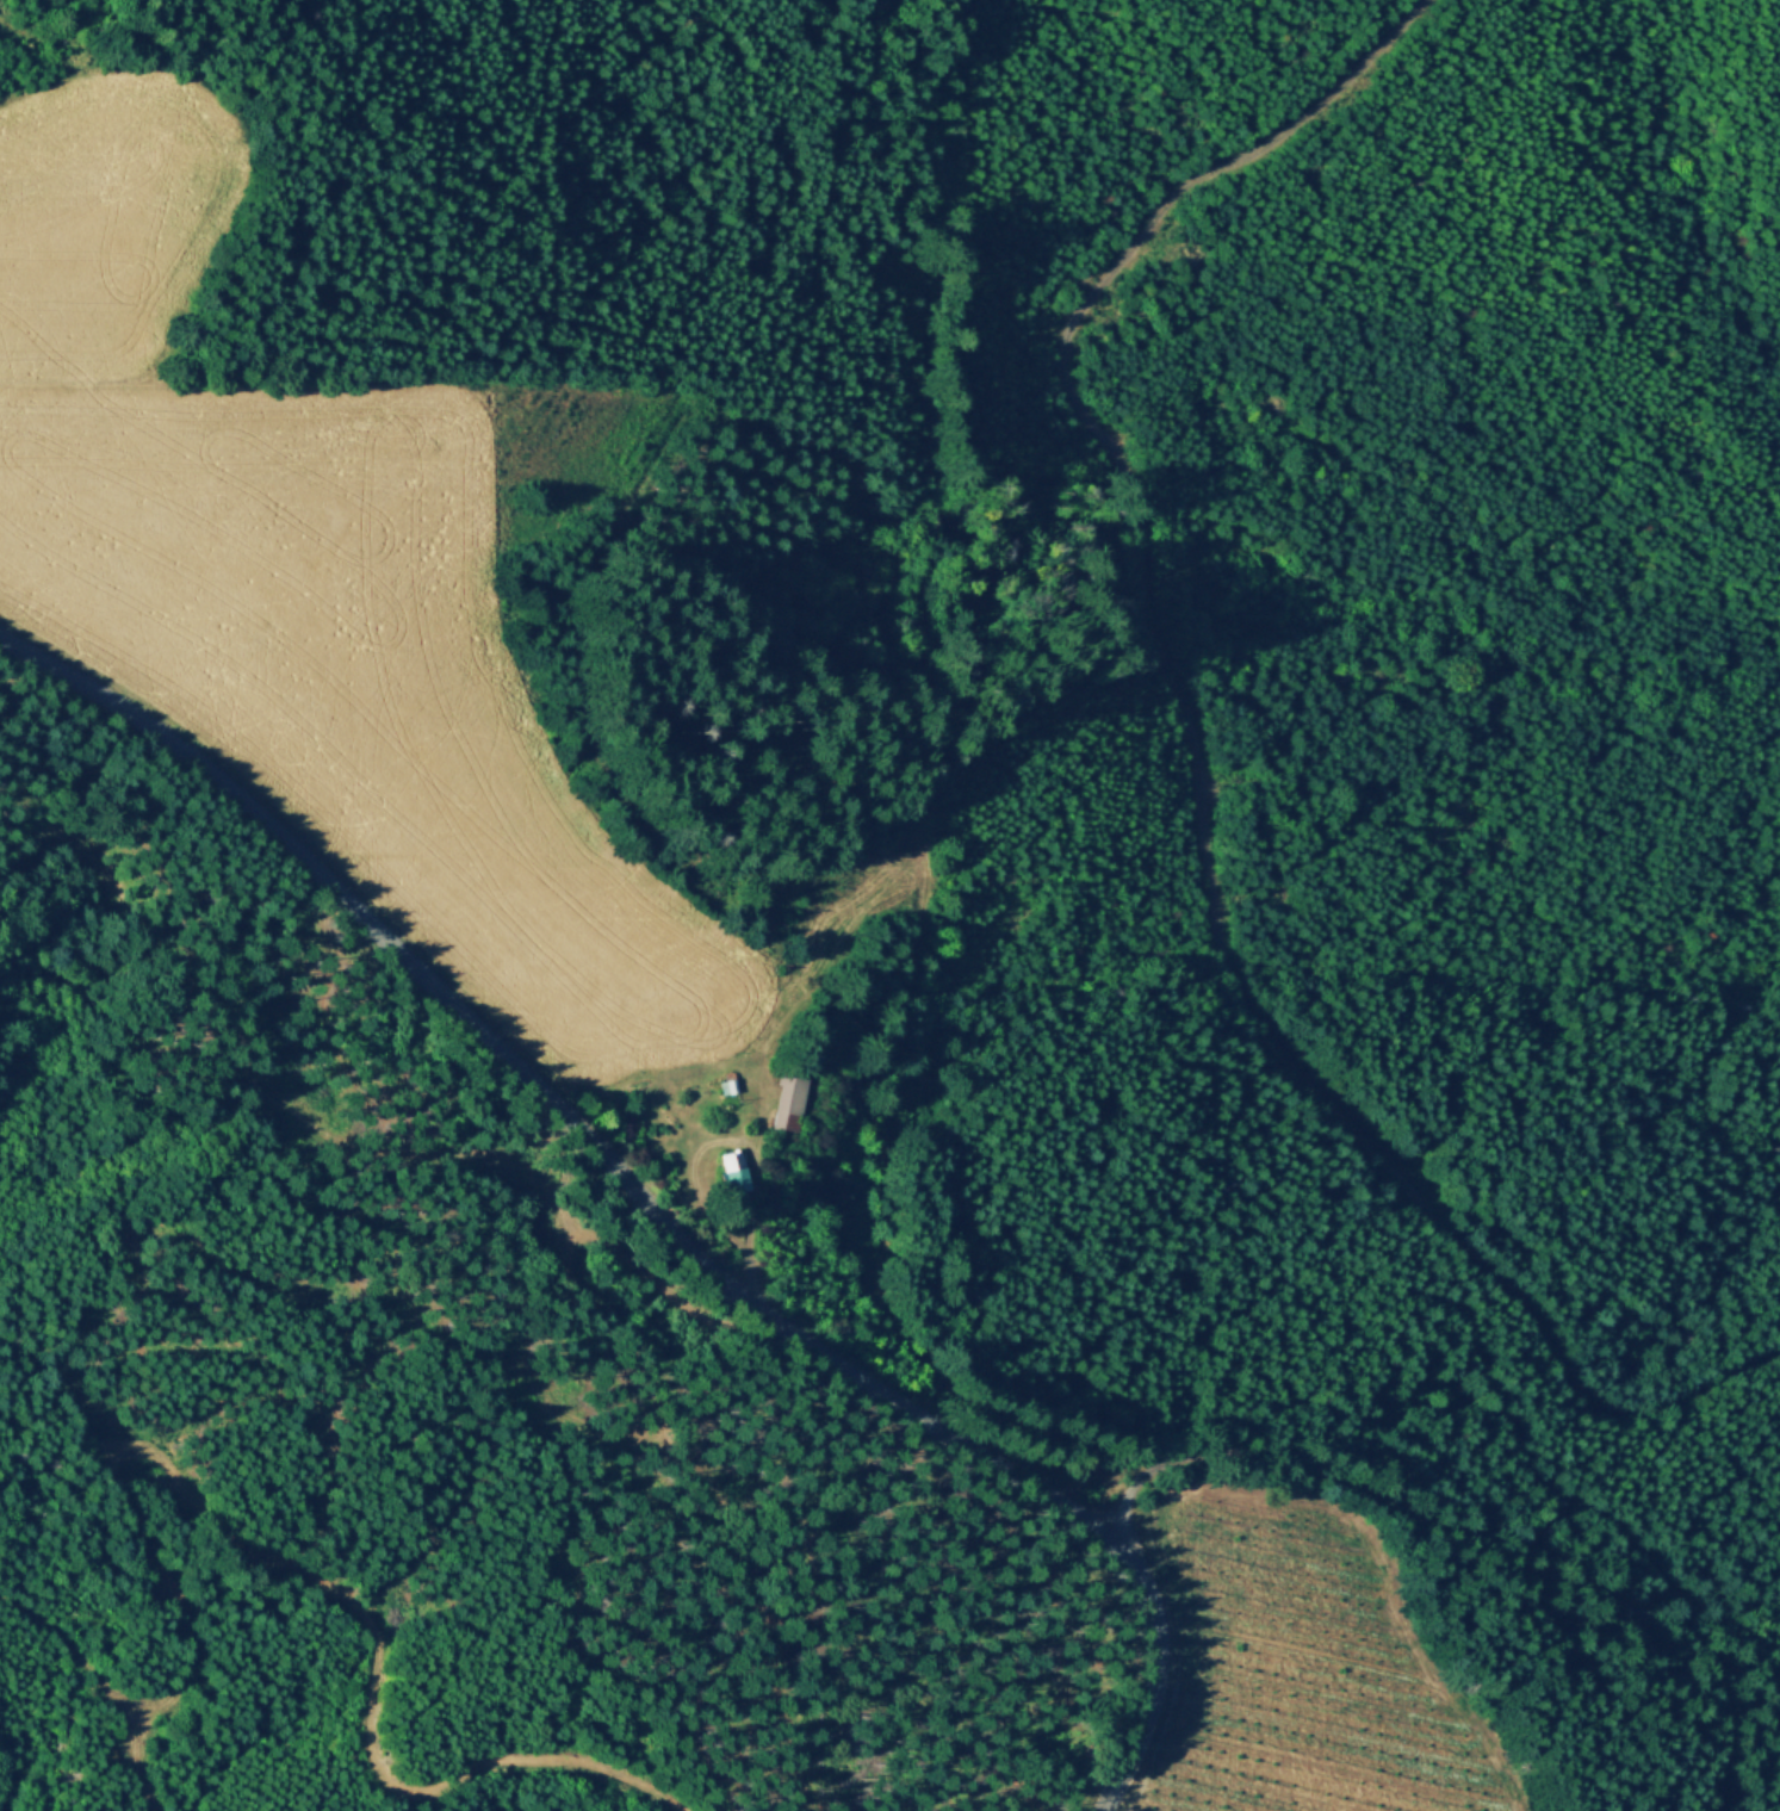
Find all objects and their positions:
road: (755, 36)
road: (75, 46)
crop: (104, 227)
road: (213, 259)
road: (492, 314)
crop: (356, 687)
road: (1199, 774)
building: (784, 1105)
road: (737, 1136)
building: (731, 1174)
road: (649, 1208)
road: (1427, 1520)
road: (286, 1564)
crop: (1289, 1673)

